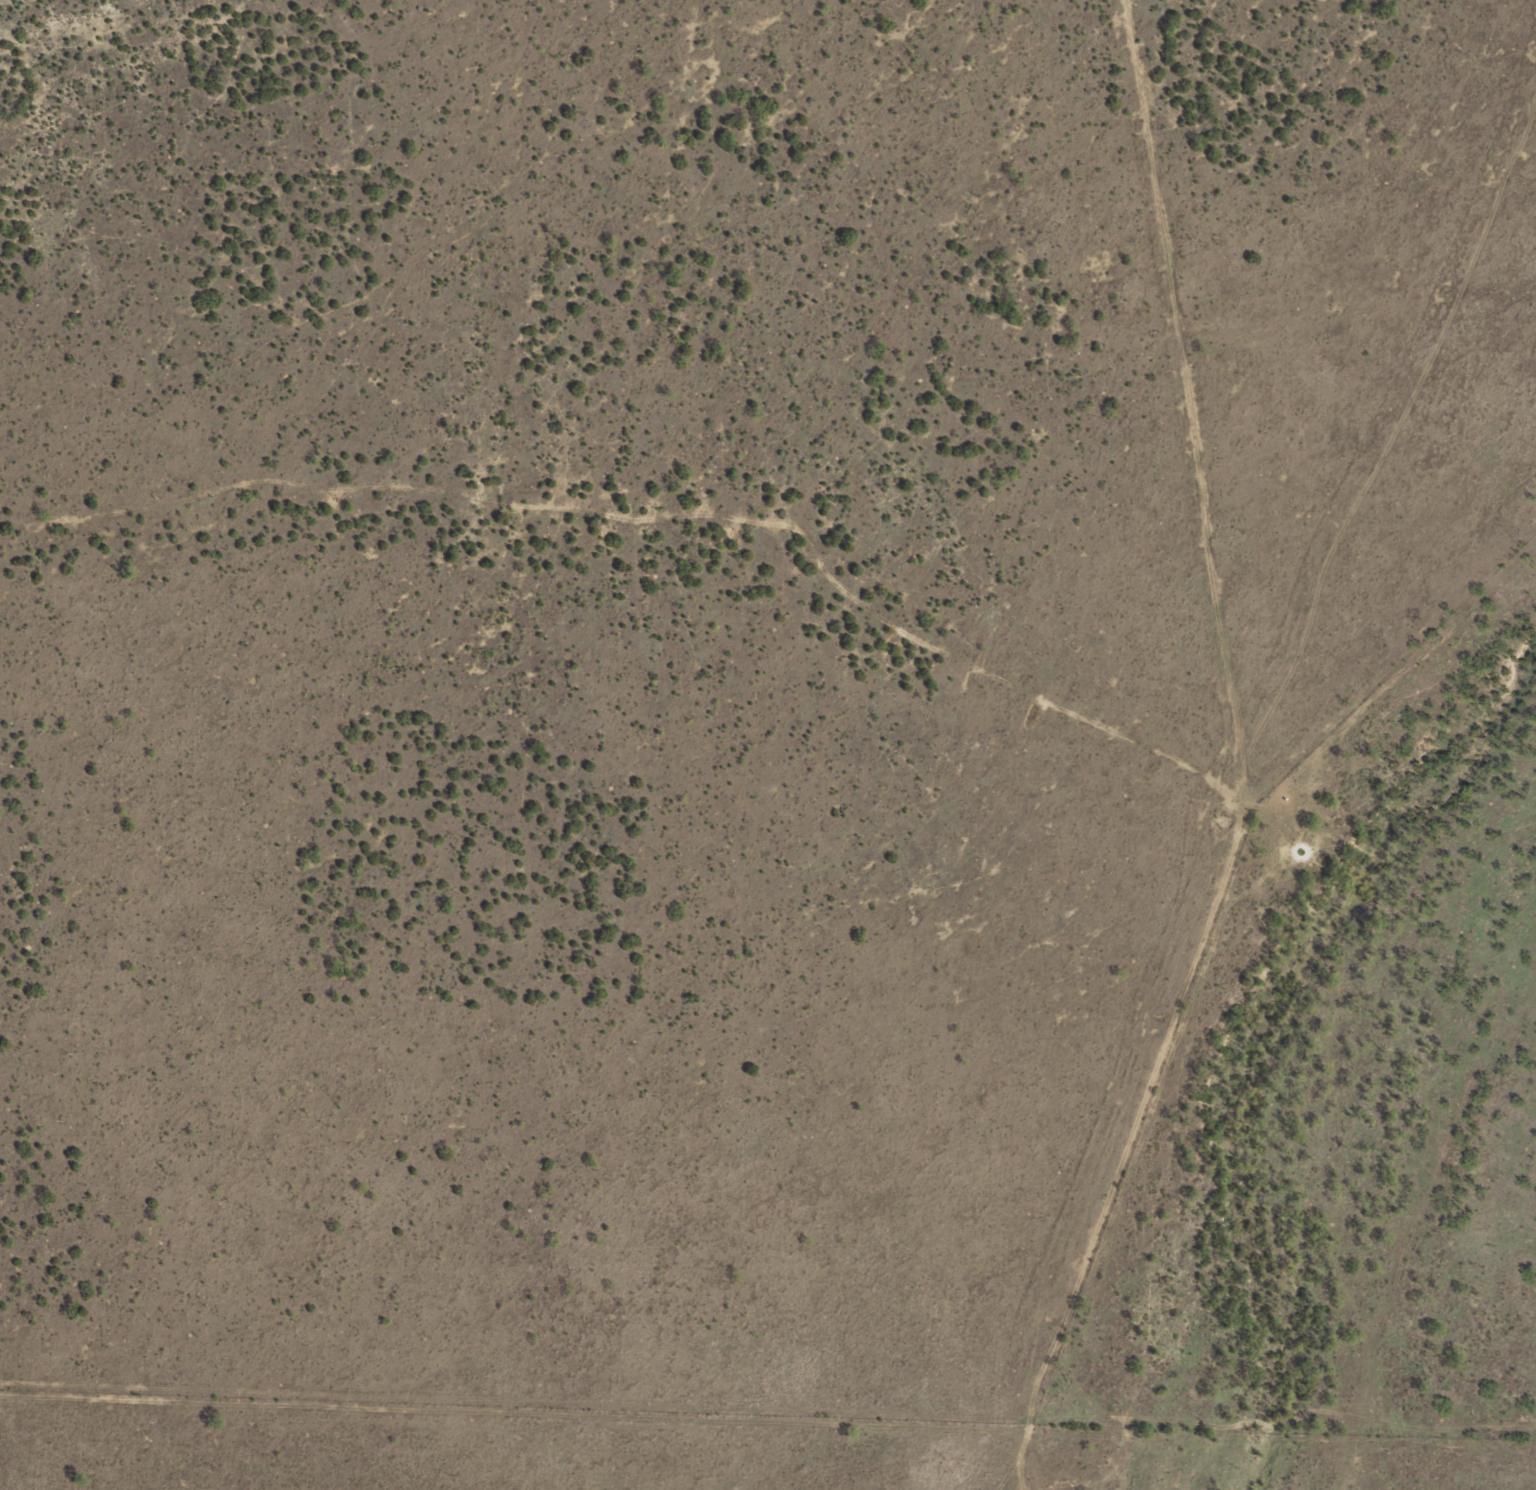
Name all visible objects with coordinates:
road: (1188, 958)

